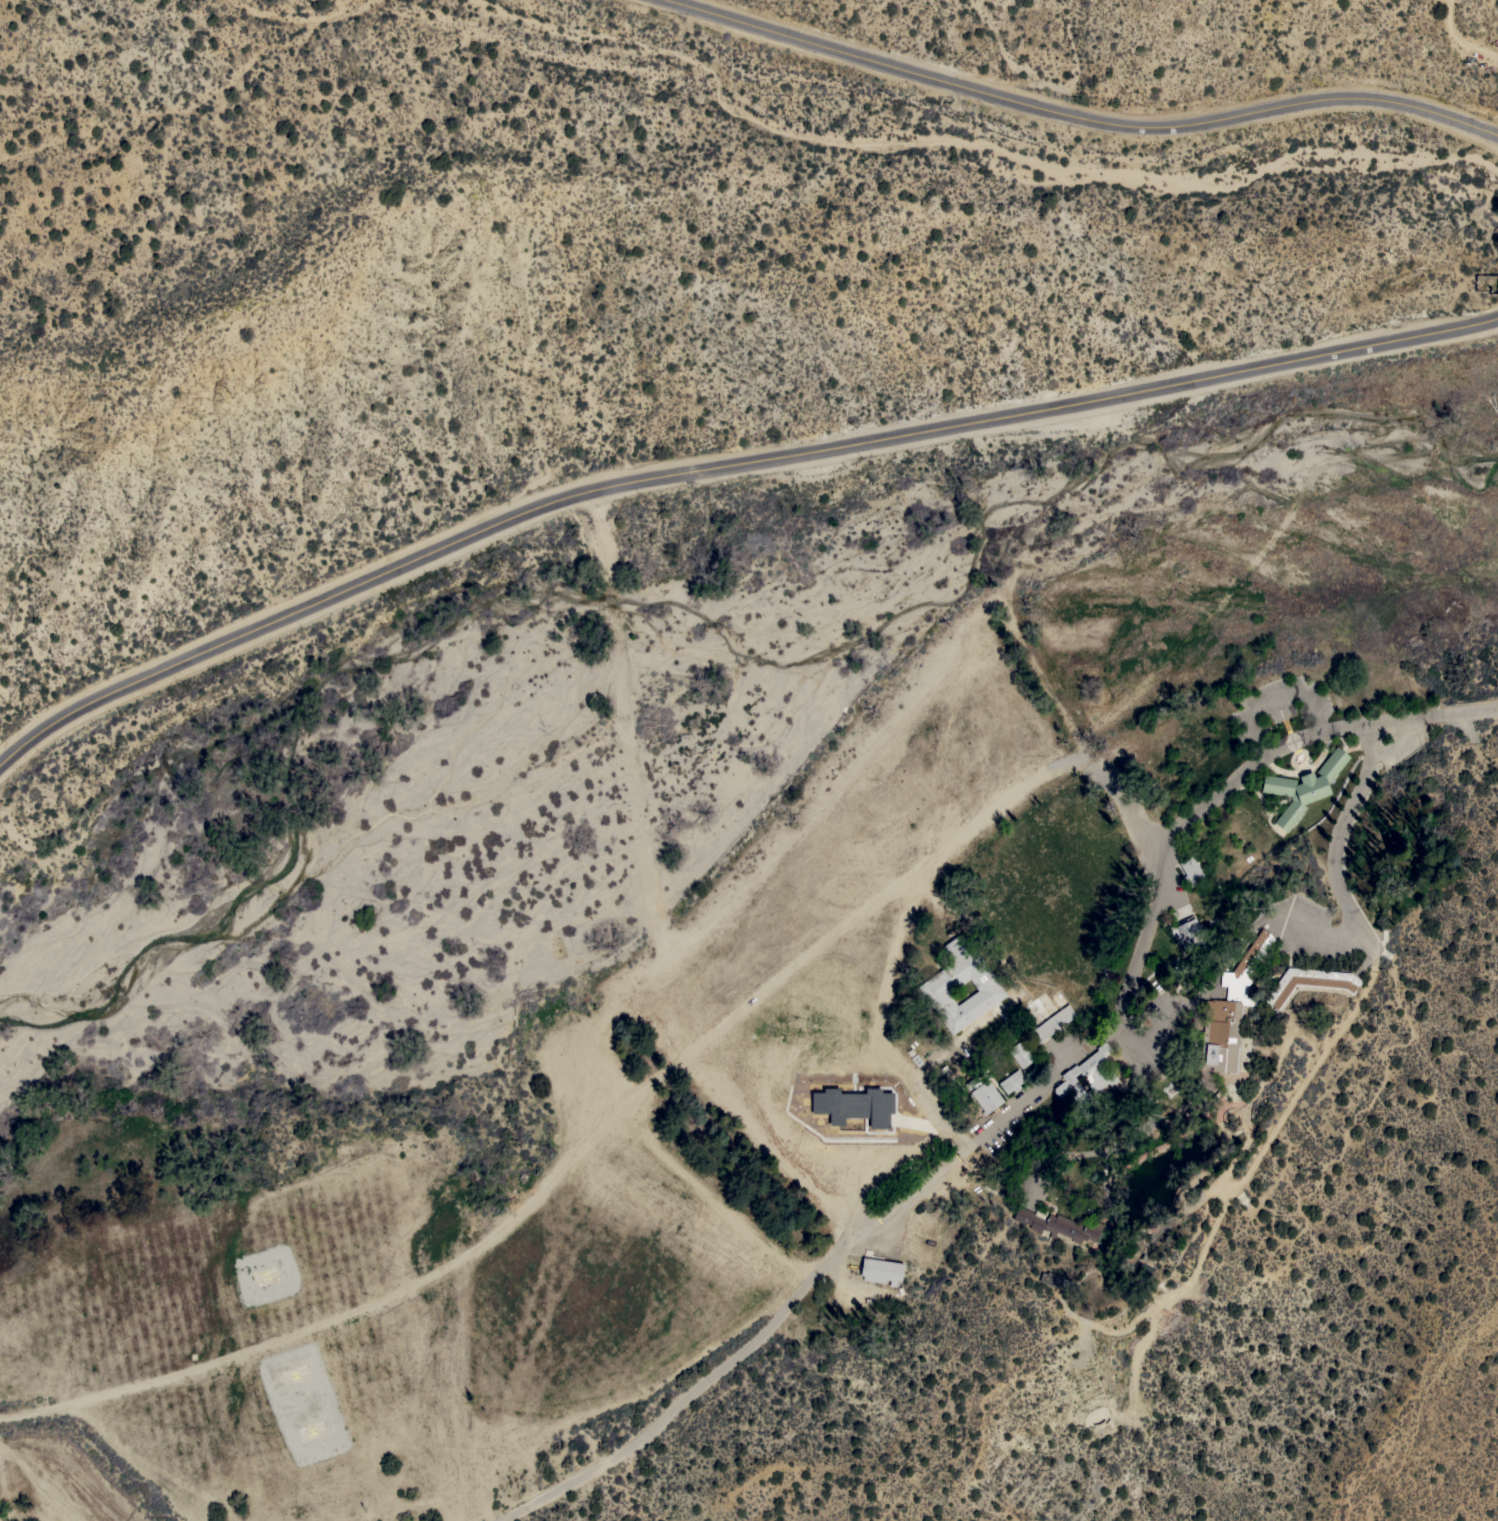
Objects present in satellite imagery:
road: (1081, 119)
building: (1496, 230)
road: (722, 466)
road: (1275, 702)
road: (1403, 740)
building: (1304, 787)
road: (1335, 856)
building: (1191, 869)
building: (1187, 932)
building: (942, 982)
building: (1309, 982)
building: (1230, 1010)
building: (1052, 1023)
building: (1020, 1054)
building: (1088, 1075)
building: (952, 1079)
building: (1011, 1081)
building: (984, 1094)
road: (1026, 1098)
building: (851, 1107)
road: (621, 1118)
building: (1058, 1224)
building: (881, 1270)
building: (1143, 1271)
airport apron: (269, 1275)
helipad: (272, 1276)
building: (1050, 1278)
helipad: (300, 1373)
airport apron: (310, 1403)
helipad: (318, 1431)
road: (41, 1483)

